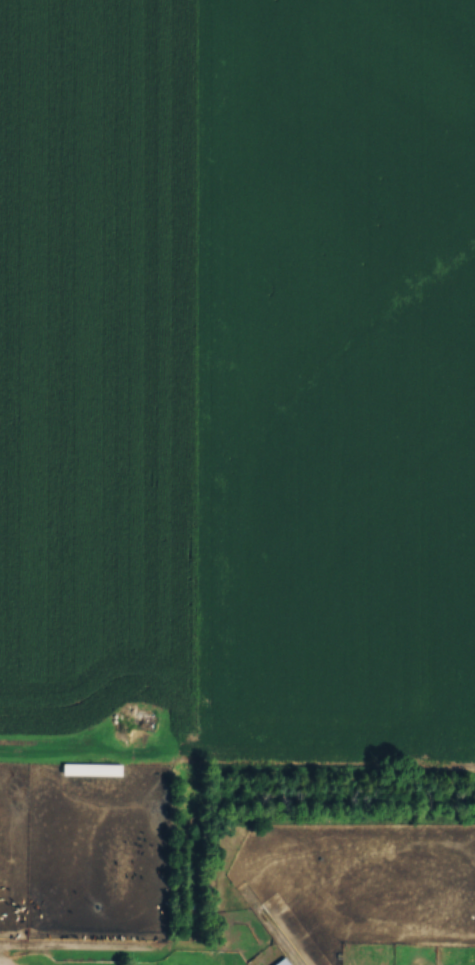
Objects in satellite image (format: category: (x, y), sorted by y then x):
building: (95, 765)
building: (284, 960)

